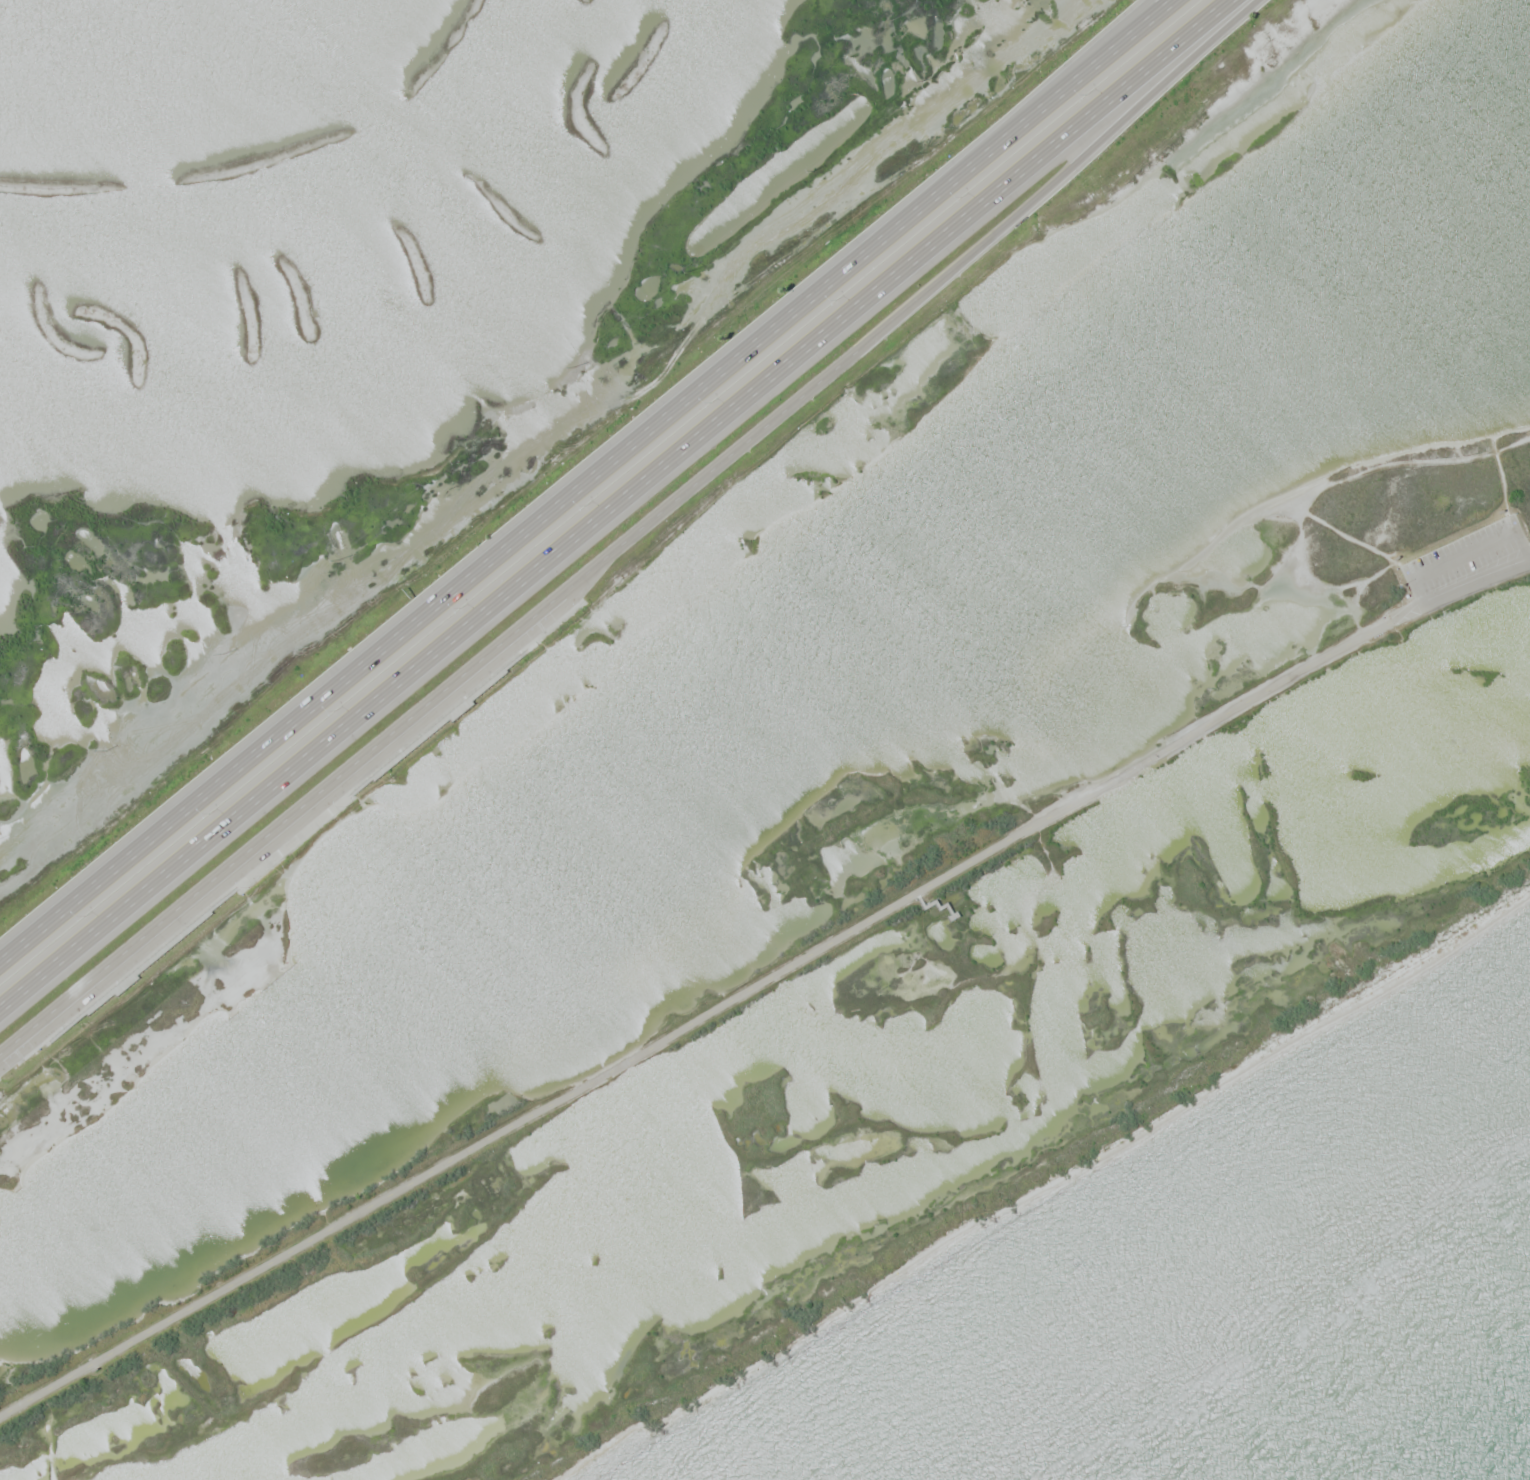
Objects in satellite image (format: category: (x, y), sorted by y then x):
road: (1028, 104)
road: (587, 484)
road: (615, 505)
road: (632, 534)
parking lot: (1463, 554)
road: (1460, 589)
road: (935, 900)
road: (696, 1019)

